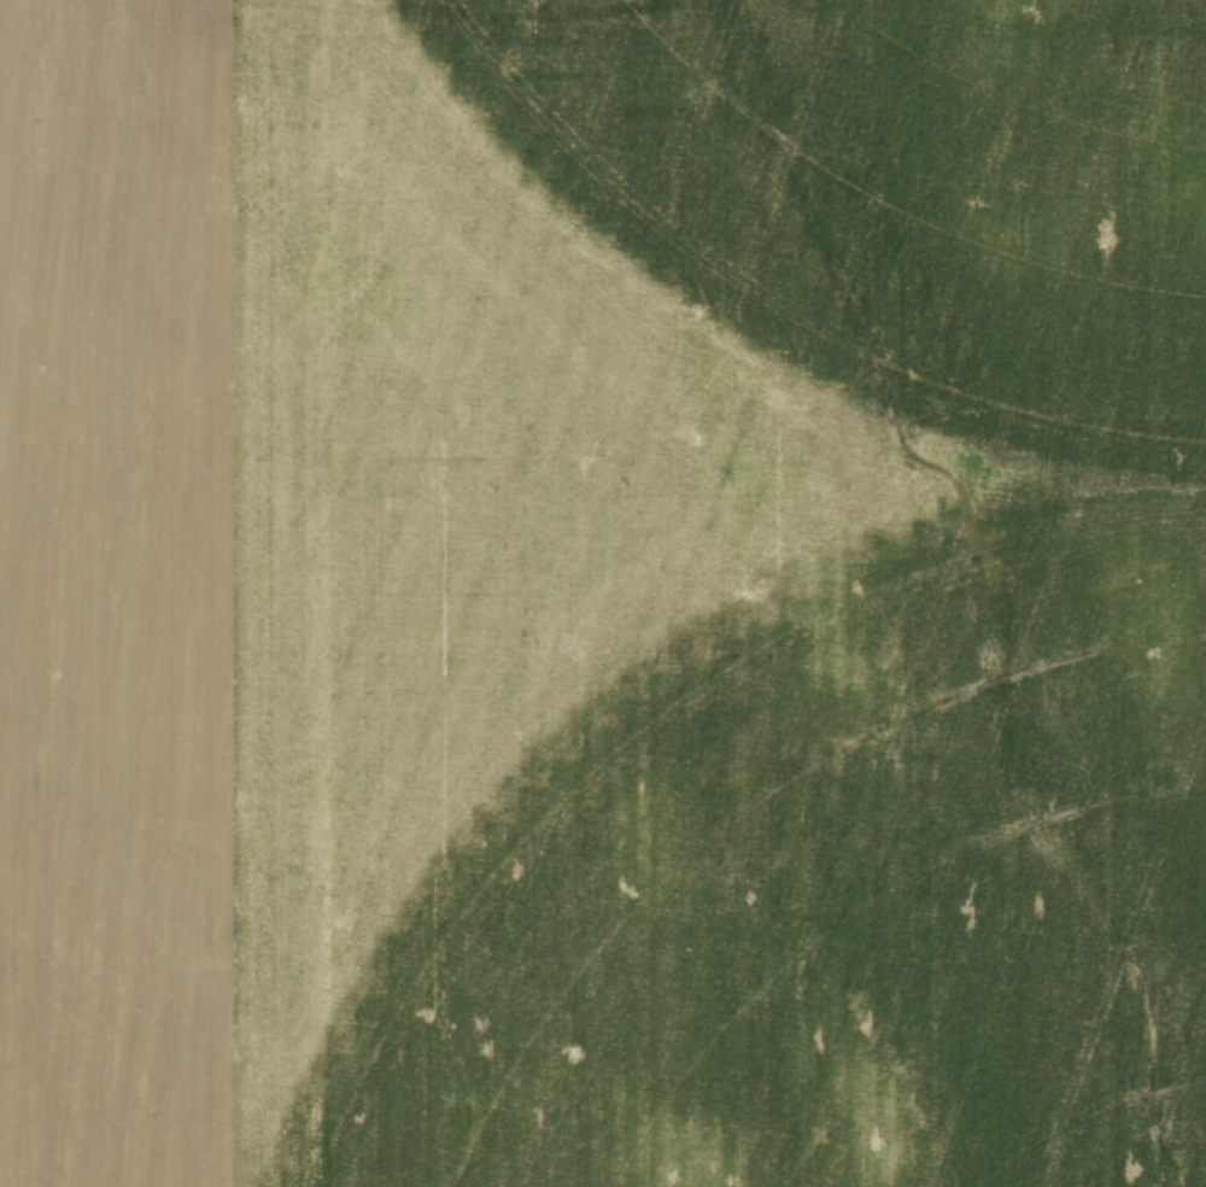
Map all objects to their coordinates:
crop: (603, 593)

